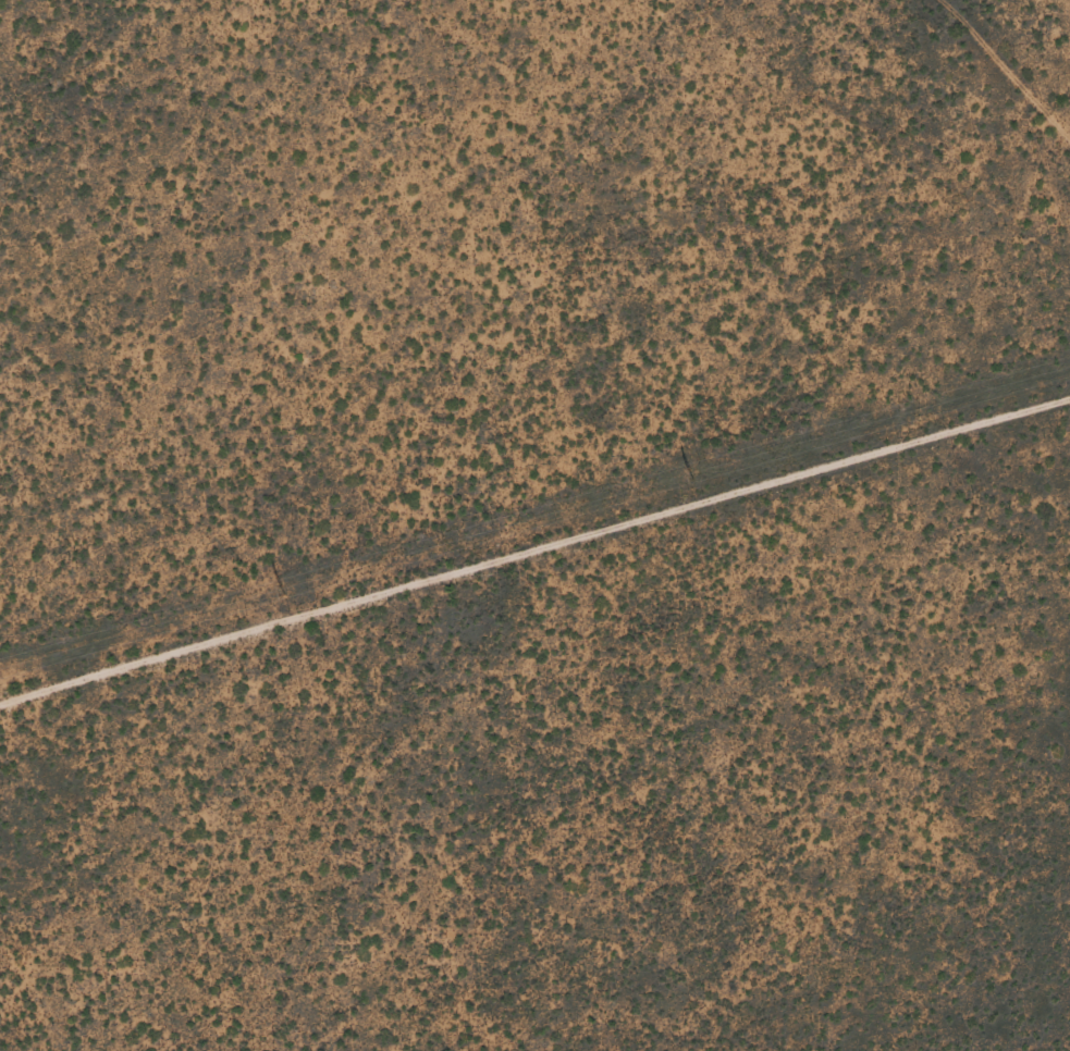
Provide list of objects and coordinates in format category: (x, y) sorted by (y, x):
power tower: (688, 473)
power tower: (280, 591)

